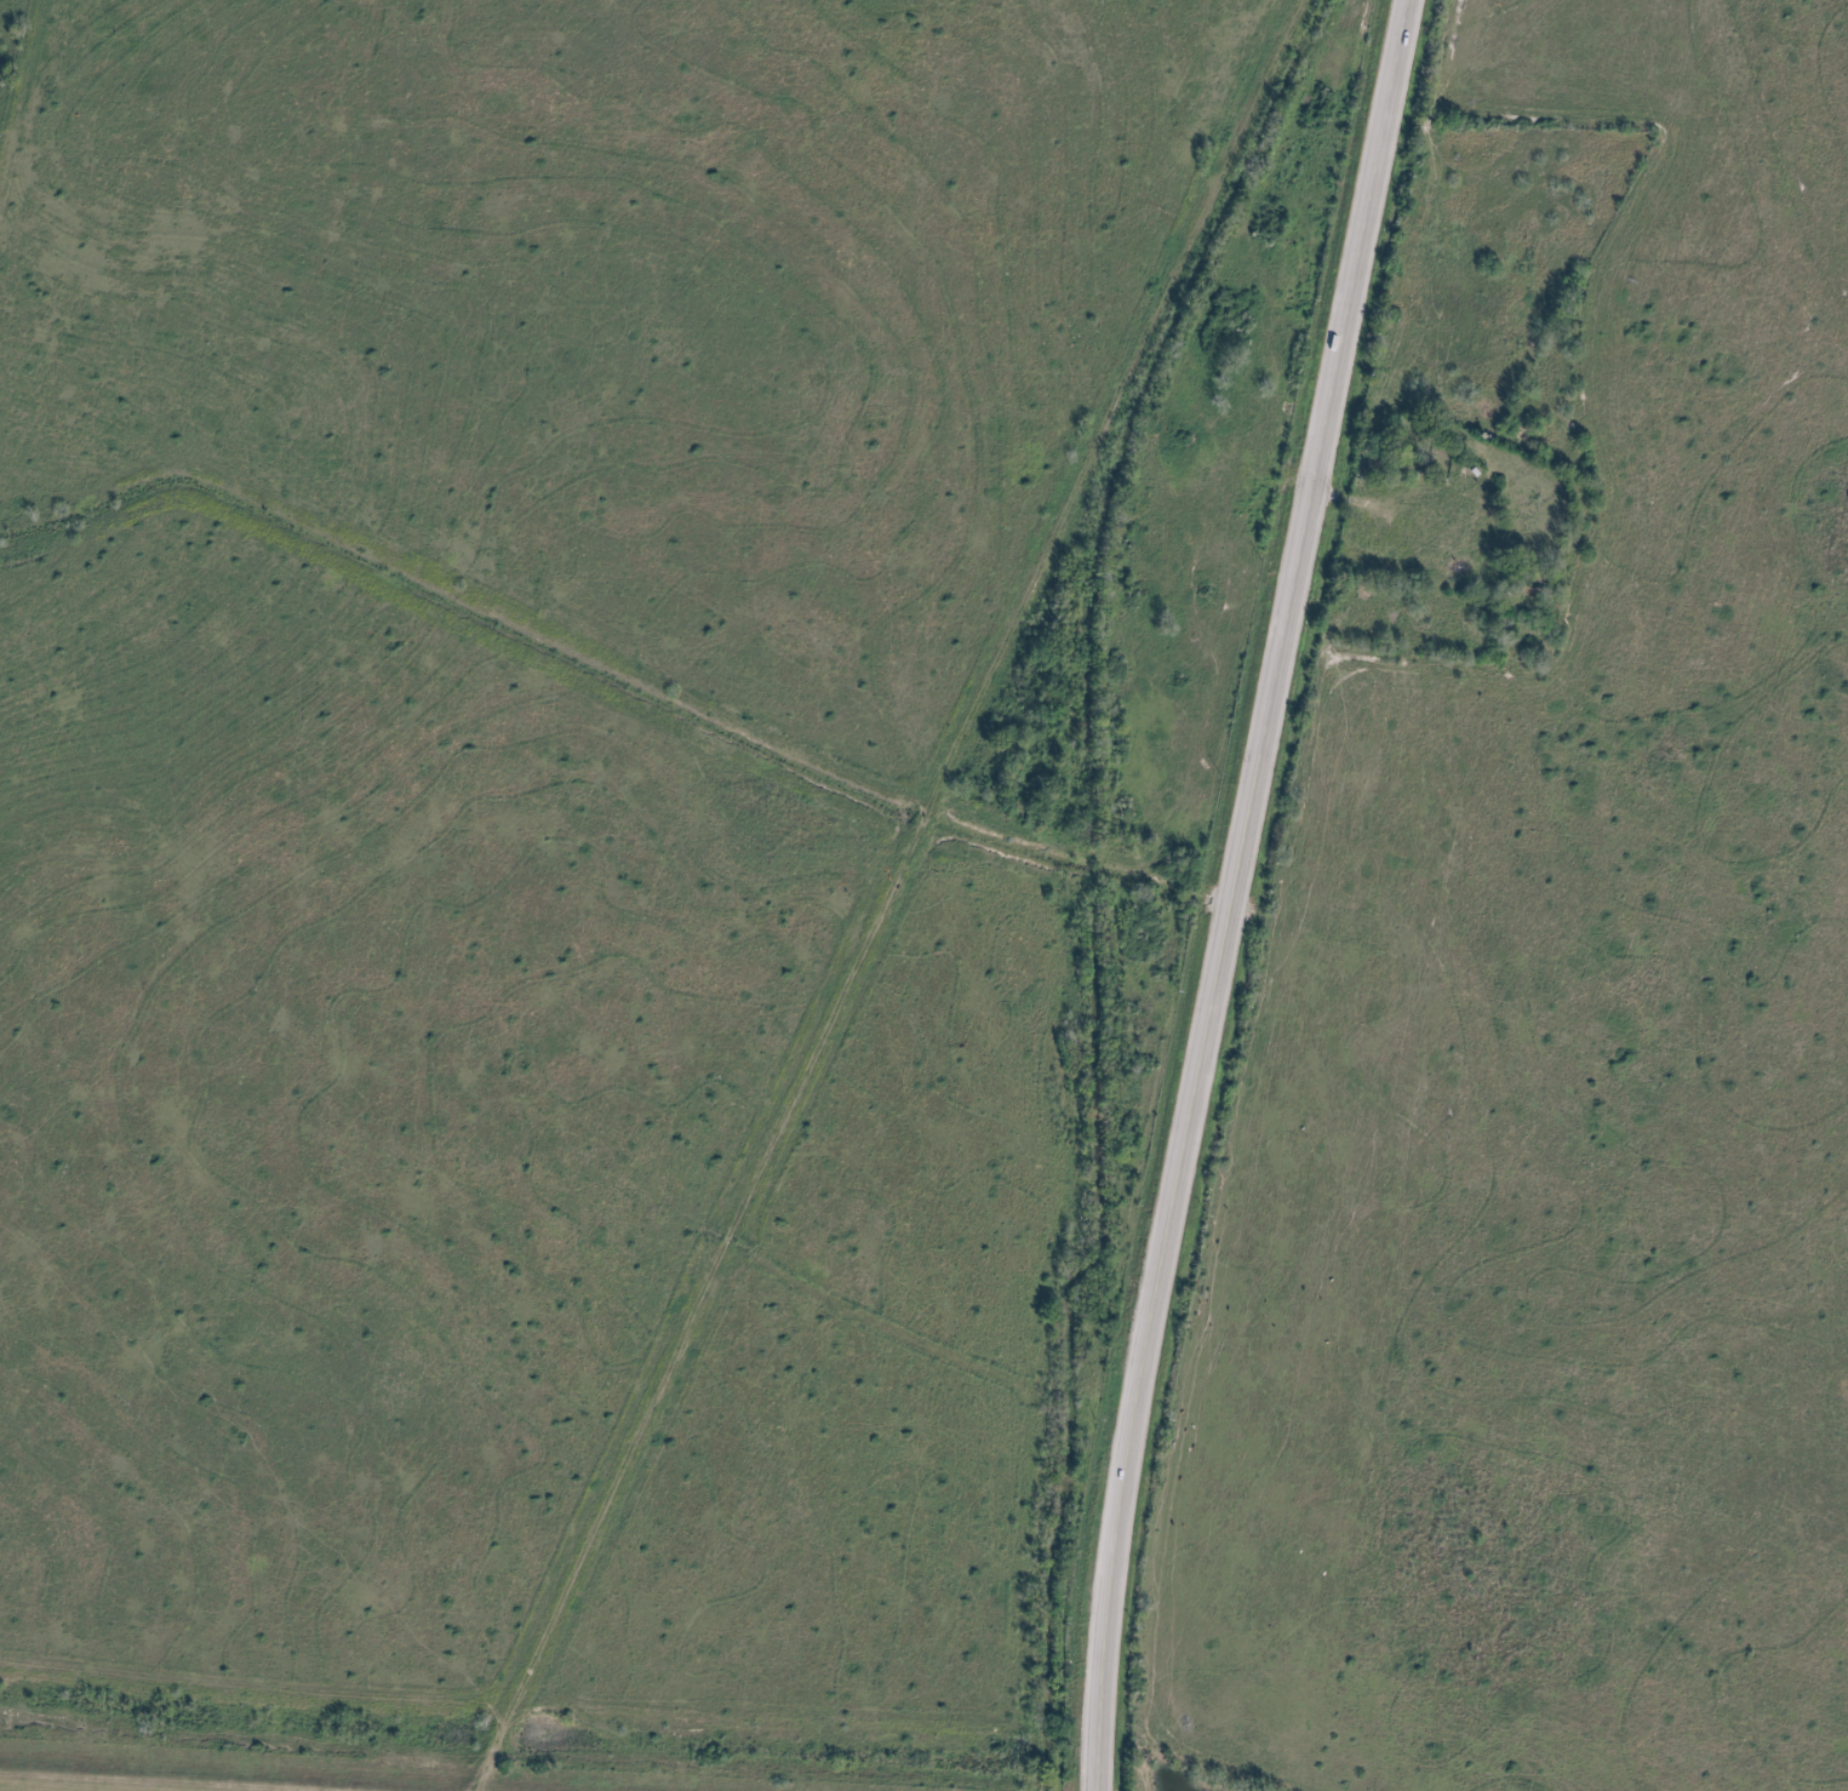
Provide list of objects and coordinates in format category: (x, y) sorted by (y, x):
road: (1231, 893)
road: (139, 1785)

